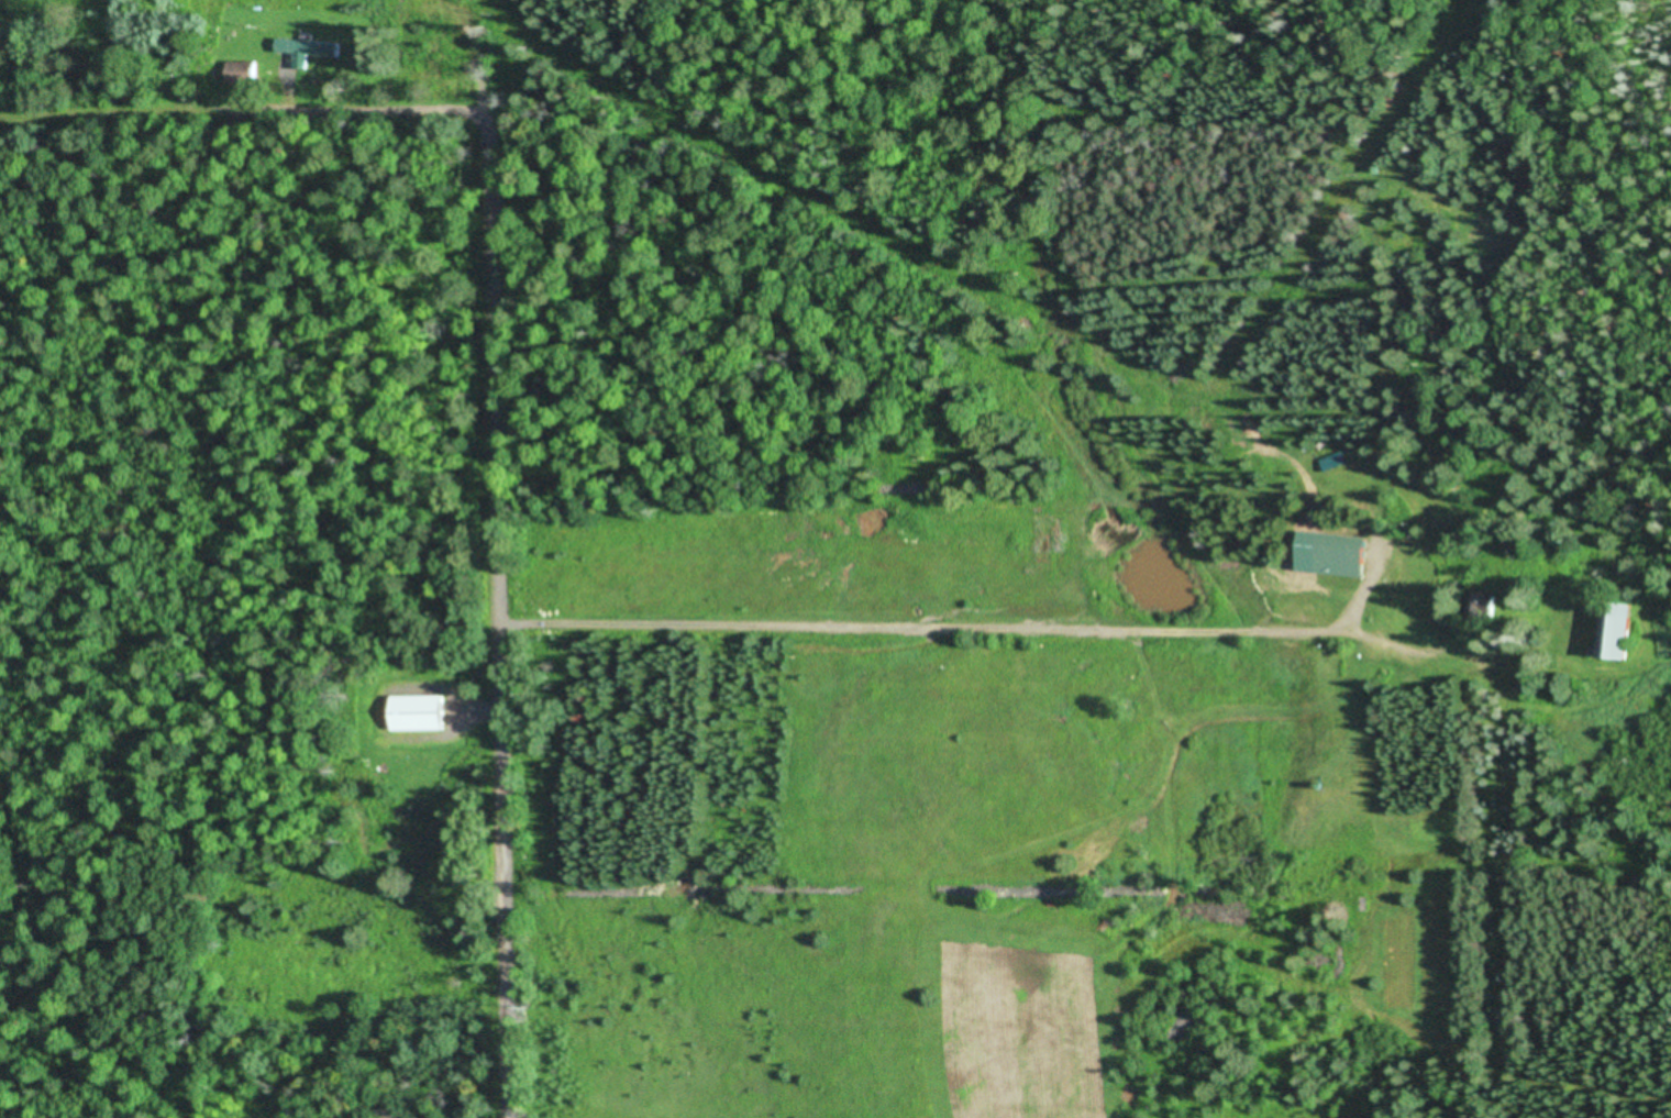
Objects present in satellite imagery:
building: (305, 49)
building: (241, 71)
road: (250, 401)
building: (1341, 555)
road: (502, 576)
building: (1480, 607)
building: (1613, 631)
road: (938, 653)
building: (416, 711)

